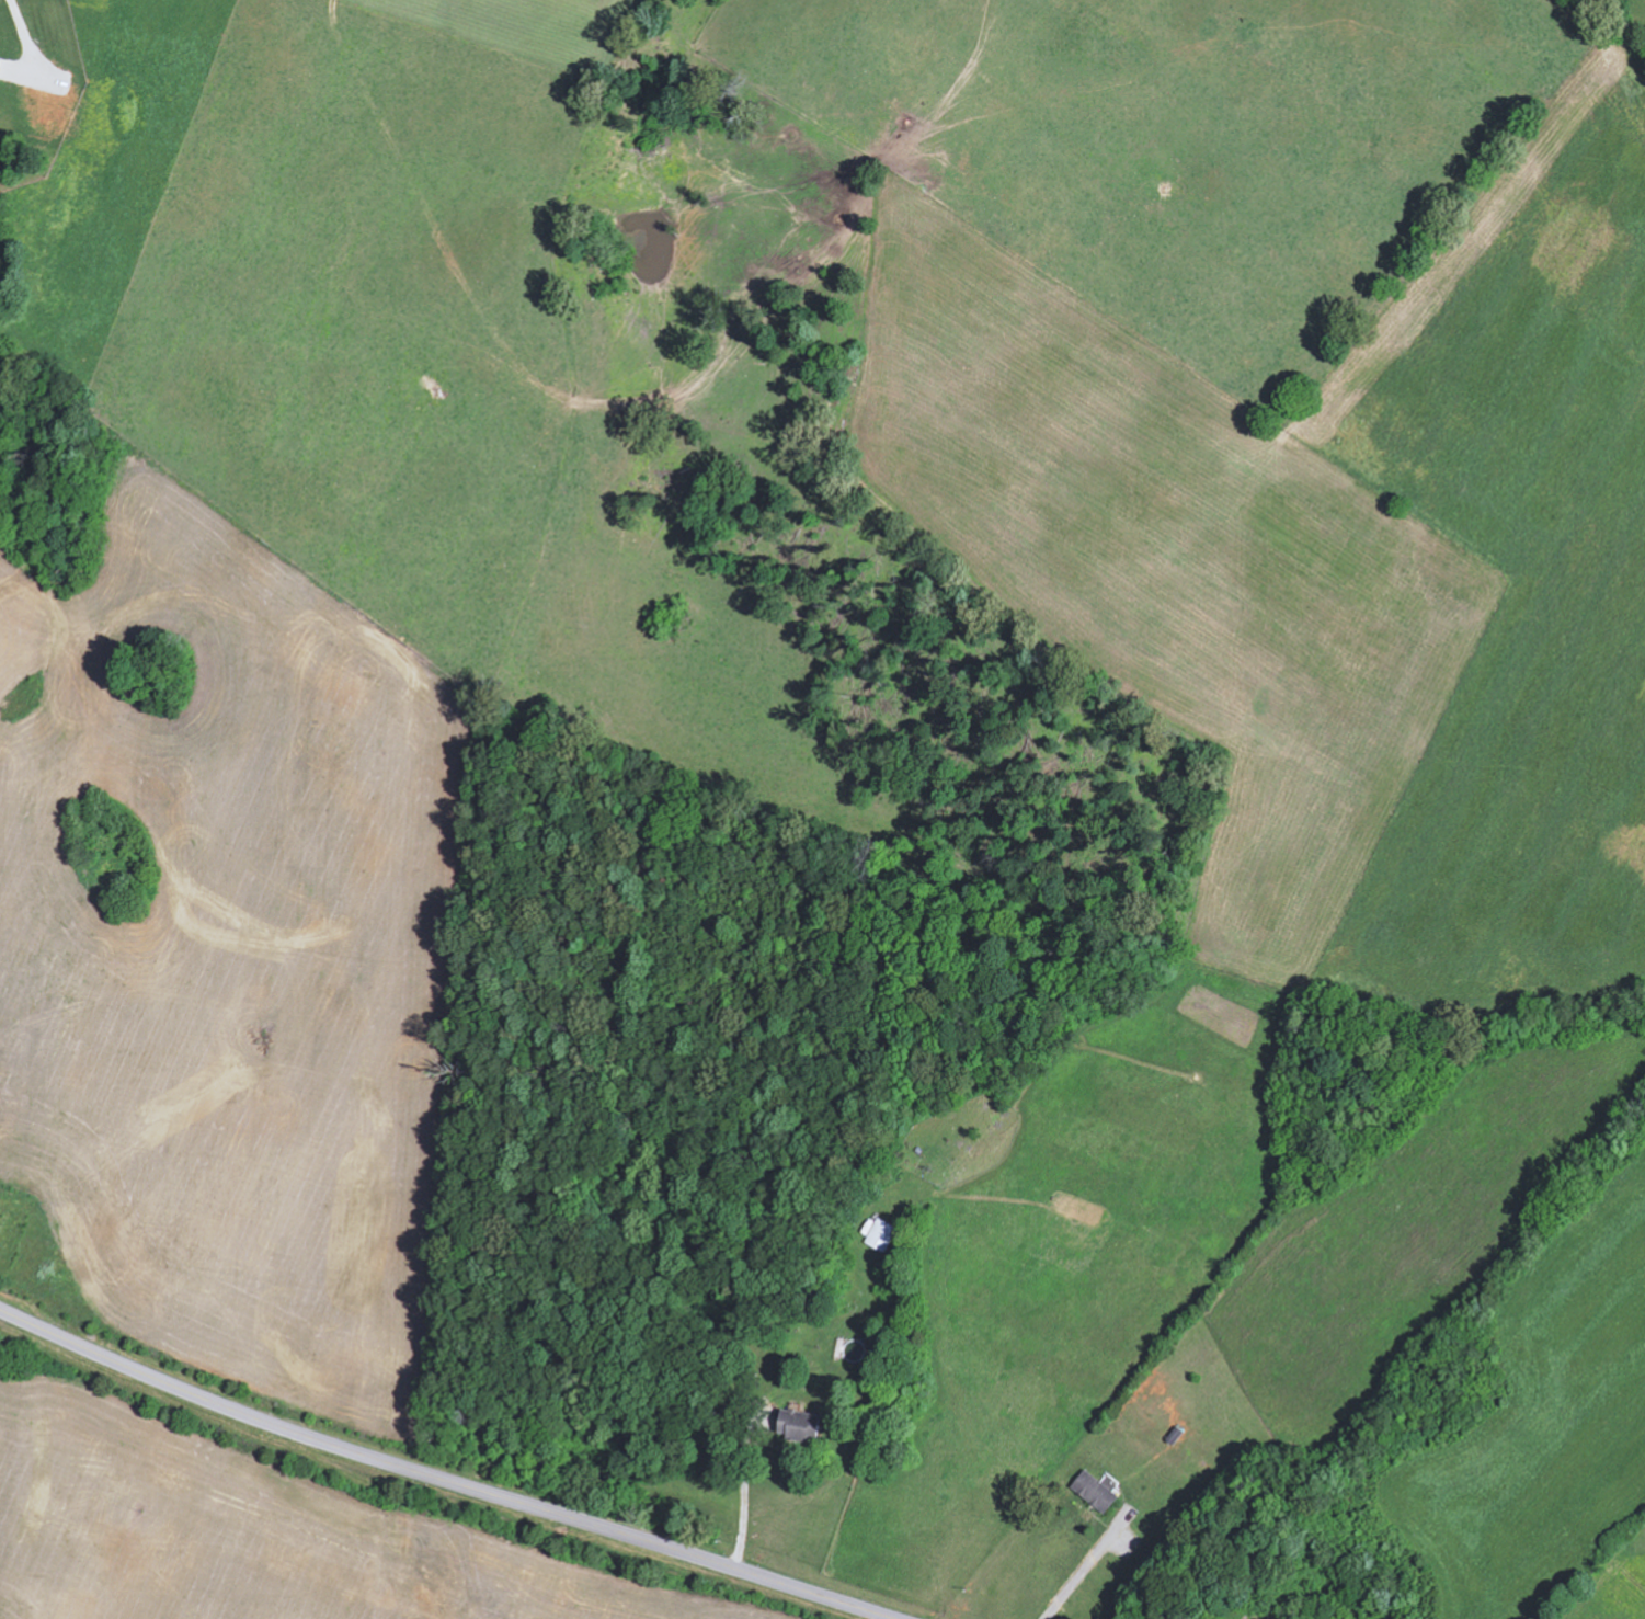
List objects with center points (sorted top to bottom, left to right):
road: (24, 36)
building: (798, 1423)
road: (442, 1479)
road: (742, 1490)
building: (1093, 1490)
road: (1086, 1565)

